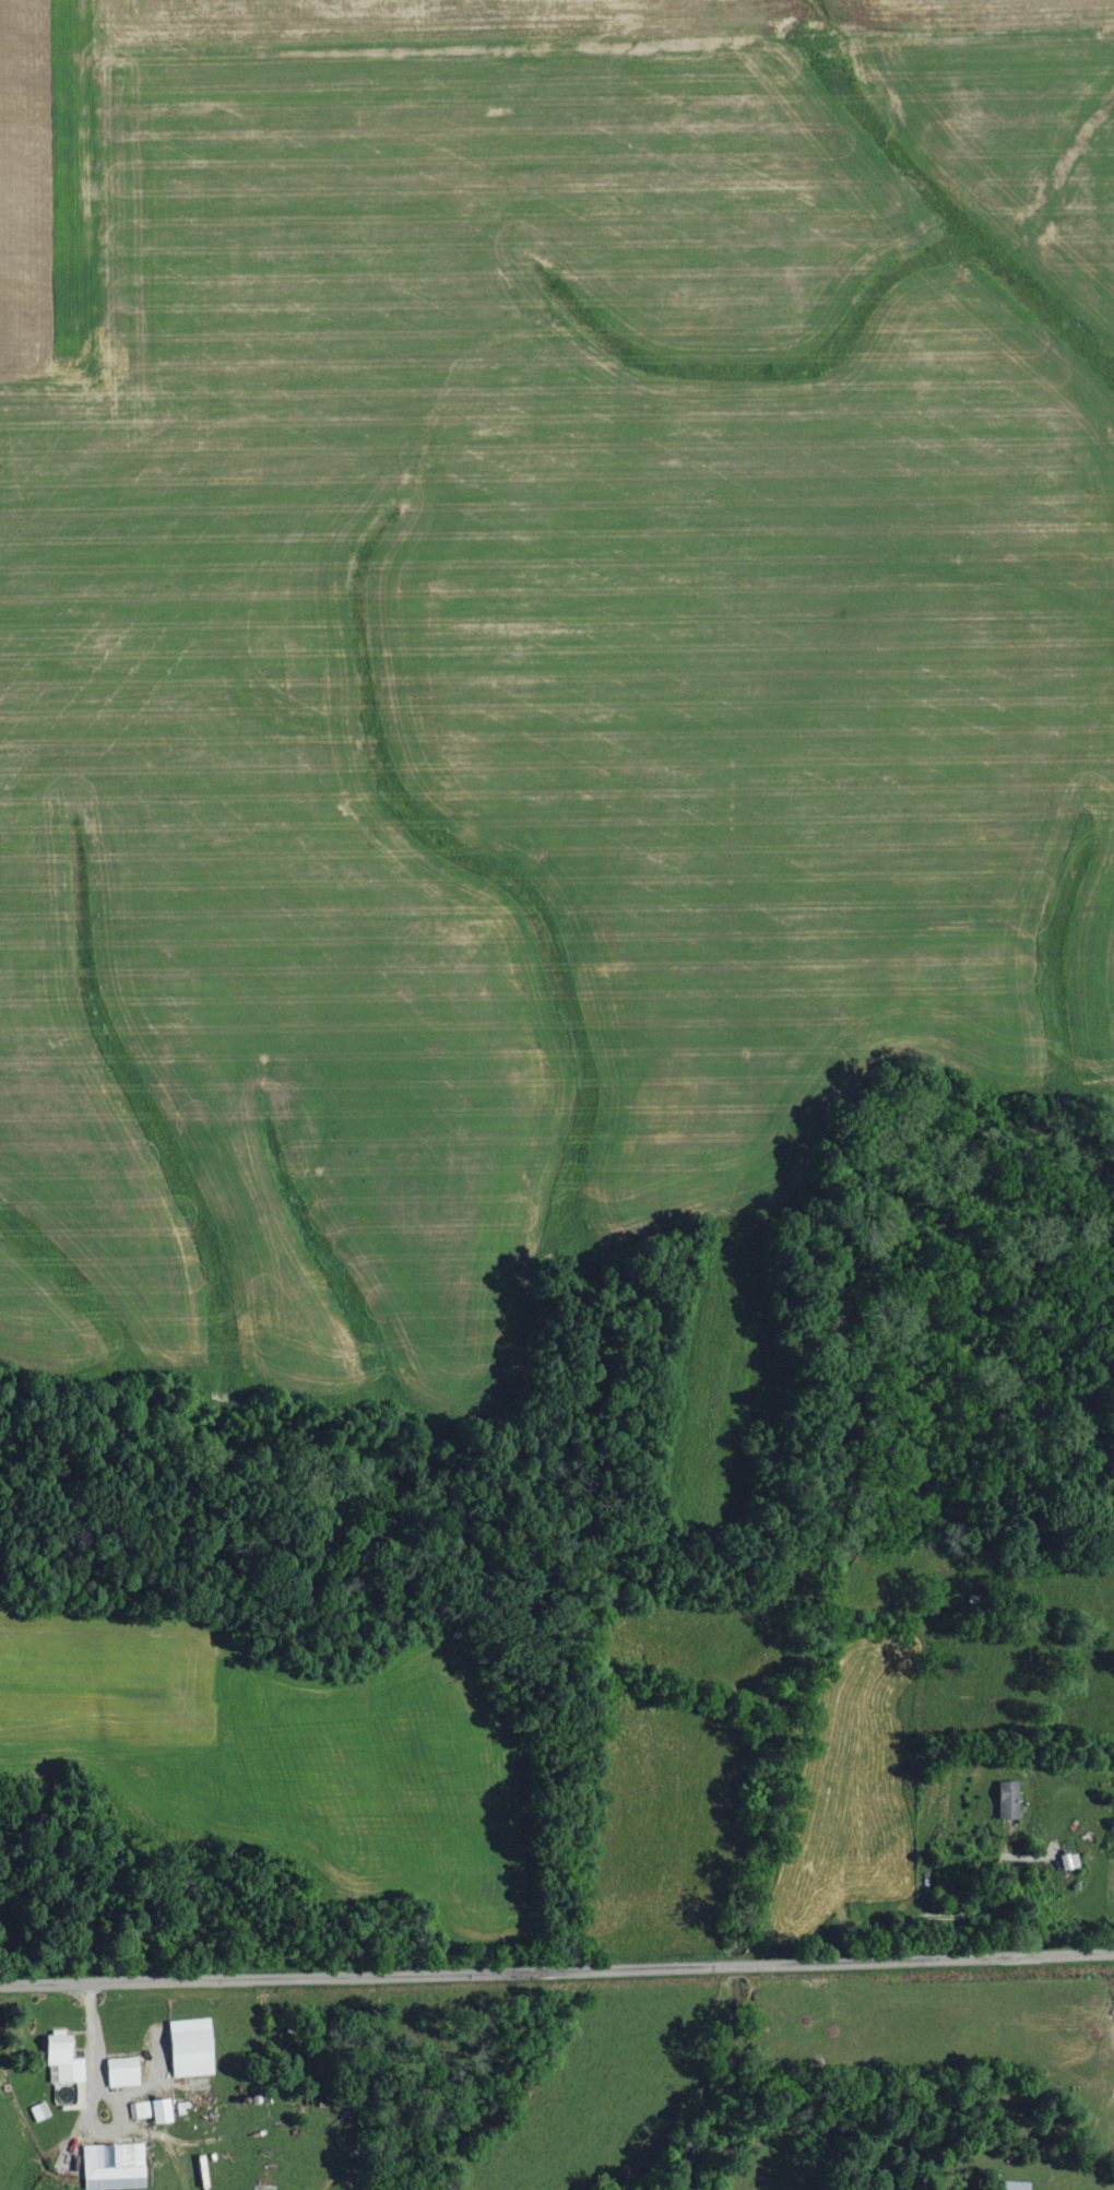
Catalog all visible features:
building: (1011, 1800)
road: (556, 1969)
road: (88, 2032)
building: (194, 2047)
building: (67, 2060)
building: (126, 2072)
road: (108, 2100)
building: (183, 2108)
building: (156, 2110)
building: (42, 2111)
building: (117, 2167)
building: (1020, 2186)

